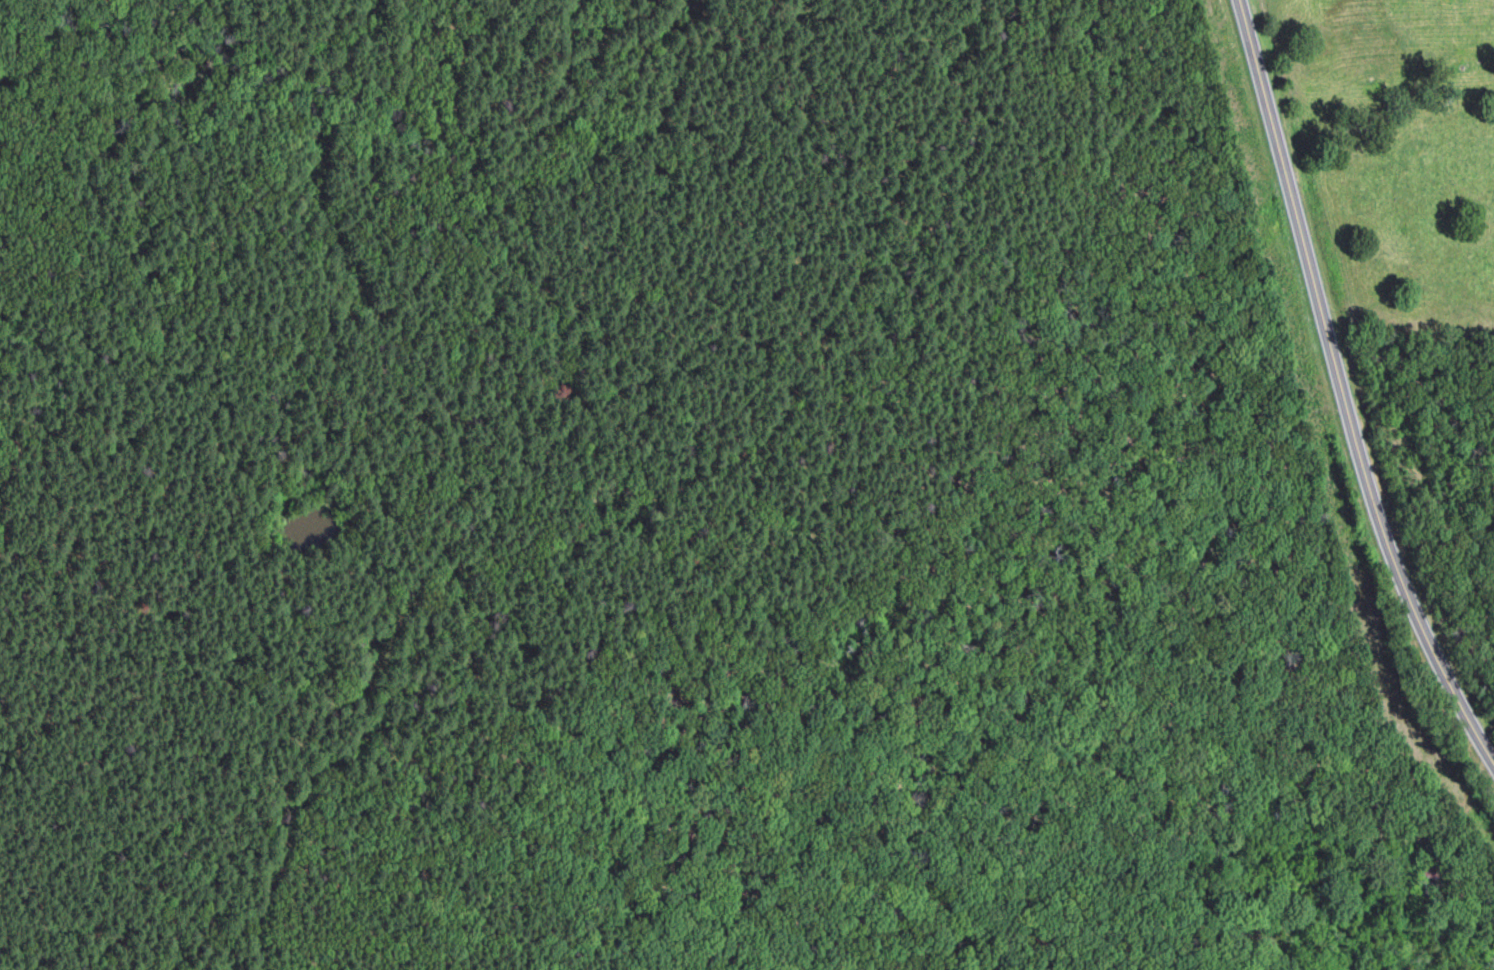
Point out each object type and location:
road: (1336, 393)

